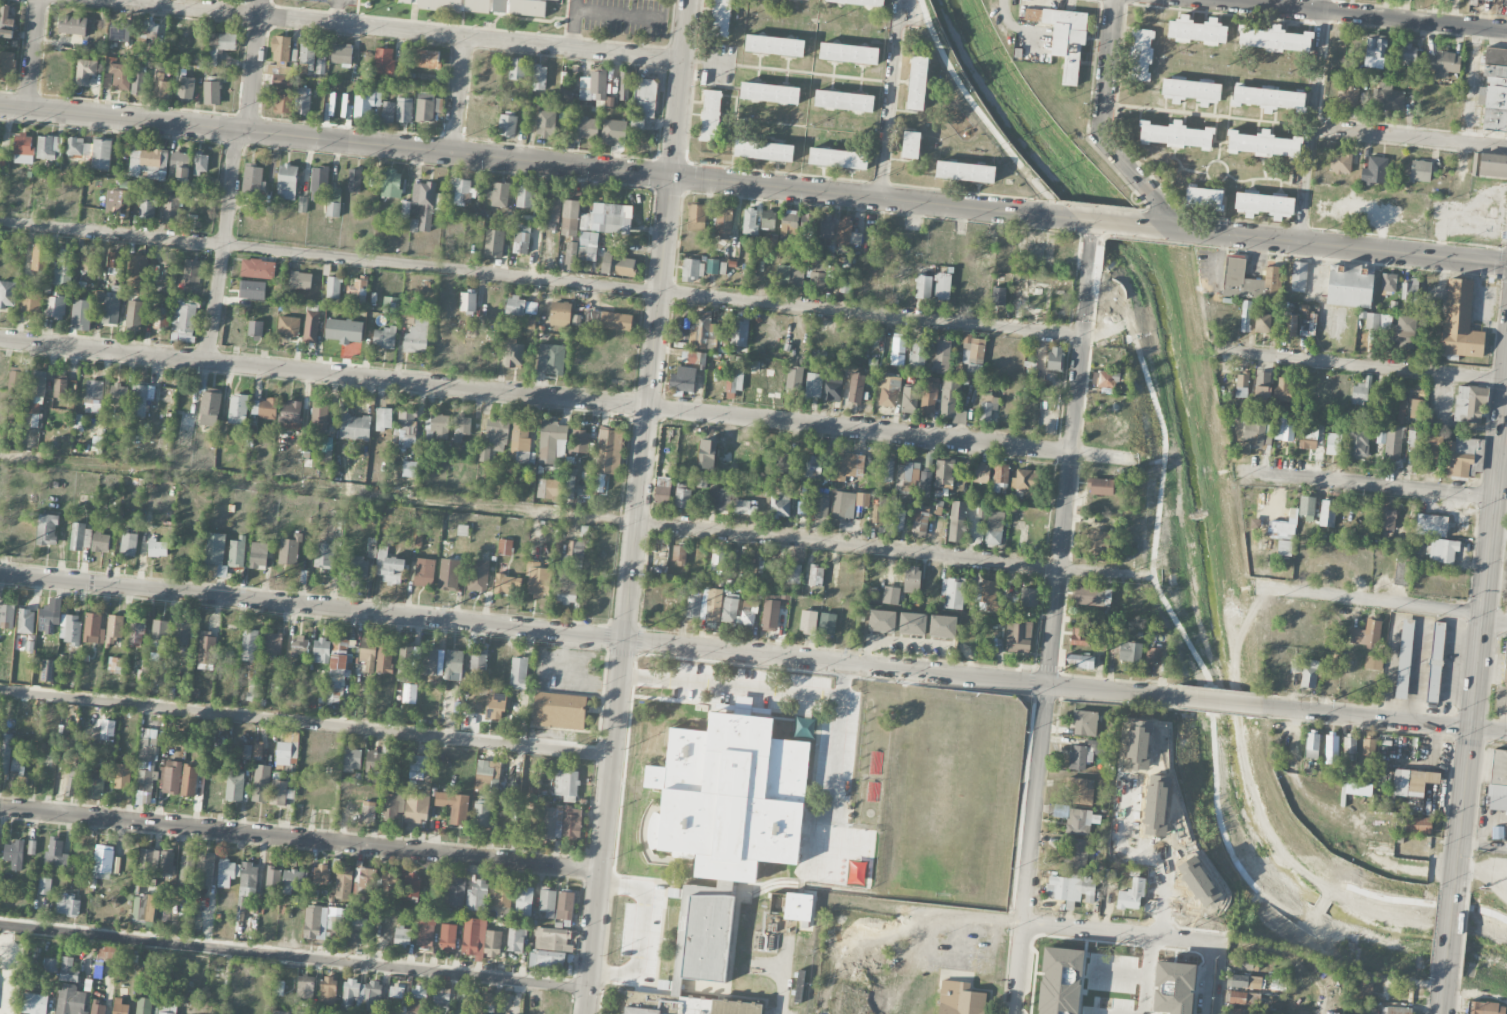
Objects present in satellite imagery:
building: (320, 1)
building: (409, 2)
building: (858, 2)
building: (440, 5)
building: (477, 6)
building: (500, 6)
building: (528, 7)
park: (313, 10)
parking lot: (313, 10)
road: (336, 12)
road: (616, 13)
road: (1362, 14)
building: (720, 18)
building: (6, 23)
road: (572, 24)
building: (72, 25)
building: (149, 30)
road: (390, 30)
building: (119, 31)
building: (1197, 31)
building: (1064, 37)
building: (1275, 39)
building: (223, 44)
building: (774, 45)
building: (1375, 51)
building: (307, 53)
building: (848, 53)
road: (1113, 53)
building: (1407, 53)
road: (32, 55)
building: (342, 56)
building: (1140, 56)
building: (427, 59)
building: (384, 61)
building: (281, 63)
building: (321, 63)
road: (709, 63)
building: (1444, 64)
building: (7, 66)
road: (255, 66)
building: (517, 68)
building: (85, 72)
road: (813, 75)
building: (121, 77)
building: (539, 77)
building: (139, 80)
building: (917, 83)
road: (1472, 85)
building: (593, 86)
building: (624, 86)
building: (161, 87)
building: (186, 88)
building: (1494, 89)
building: (1191, 91)
building: (211, 93)
building: (770, 93)
road: (458, 96)
building: (1347, 98)
building: (1389, 98)
road: (891, 99)
building: (1268, 99)
building: (304, 101)
building: (844, 101)
building: (284, 103)
building: (643, 103)
building: (332, 104)
building: (366, 104)
building: (344, 106)
building: (427, 108)
building: (404, 110)
building: (388, 113)
building: (709, 116)
road: (1210, 117)
road: (1313, 121)
building: (545, 124)
building: (509, 126)
building: (586, 128)
building: (1176, 135)
road: (1409, 138)
building: (1264, 144)
road: (675, 145)
building: (911, 145)
building: (78, 147)
building: (49, 148)
building: (23, 150)
building: (764, 150)
building: (101, 154)
building: (838, 158)
building: (1340, 162)
road: (545, 163)
building: (201, 164)
building: (148, 165)
building: (1490, 166)
building: (179, 167)
building: (1420, 170)
building: (965, 171)
building: (1374, 171)
road: (1132, 172)
building: (253, 180)
building: (354, 181)
building: (287, 182)
building: (391, 184)
building: (461, 190)
building: (325, 191)
building: (499, 195)
building: (526, 197)
building: (1203, 198)
building: (117, 203)
building: (303, 205)
building: (1264, 205)
building: (147, 206)
building: (553, 207)
building: (172, 208)
building: (422, 208)
building: (405, 210)
building: (696, 216)
building: (570, 217)
building: (606, 218)
building: (768, 219)
building: (723, 221)
building: (749, 221)
building: (808, 222)
road: (1097, 222)
road: (1130, 225)
building: (827, 226)
building: (785, 230)
building: (847, 233)
building: (521, 239)
building: (494, 243)
road: (224, 246)
road: (1330, 246)
building: (581, 249)
building: (987, 253)
building: (39, 257)
road: (329, 257)
building: (87, 260)
building: (115, 260)
building: (618, 265)
building: (718, 267)
building: (63, 269)
building: (170, 269)
building: (258, 269)
building: (692, 269)
building: (191, 272)
building: (137, 273)
building: (790, 275)
building: (1299, 276)
building: (819, 279)
building: (1250, 280)
building: (300, 281)
building: (902, 283)
building: (1389, 283)
building: (1350, 285)
building: (923, 286)
building: (942, 286)
building: (844, 287)
building: (333, 288)
building: (252, 290)
building: (1409, 290)
building: (7, 295)
building: (999, 296)
building: (467, 302)
building: (31, 304)
building: (391, 305)
building: (521, 306)
building: (54, 307)
road: (871, 313)
building: (110, 314)
building: (134, 314)
building: (560, 314)
building: (81, 316)
building: (1245, 316)
building: (159, 319)
building: (609, 320)
building: (184, 321)
building: (1460, 321)
building: (1378, 322)
building: (531, 323)
building: (1263, 323)
building: (1290, 325)
building: (1308, 325)
building: (1406, 326)
building: (289, 327)
building: (311, 327)
building: (255, 330)
building: (703, 331)
building: (739, 333)
building: (417, 337)
building: (385, 338)
building: (898, 352)
building: (972, 353)
building: (513, 354)
building: (696, 357)
building: (917, 357)
building: (942, 357)
building: (554, 359)
building: (1055, 359)
road: (1363, 365)
building: (735, 376)
building: (683, 378)
building: (794, 378)
building: (1104, 378)
building: (15, 382)
building: (773, 384)
building: (814, 385)
building: (1242, 385)
building: (1262, 386)
building: (833, 387)
road: (1506, 387)
building: (856, 388)
building: (1283, 389)
building: (888, 391)
building: (60, 392)
building: (94, 393)
building: (118, 393)
building: (1359, 394)
building: (35, 399)
building: (910, 399)
building: (928, 399)
building: (141, 400)
road: (569, 400)
building: (951, 401)
building: (1469, 404)
building: (988, 406)
building: (265, 408)
building: (210, 409)
building: (1401, 409)
building: (238, 410)
building: (1420, 410)
building: (291, 415)
building: (319, 416)
building: (383, 419)
building: (439, 427)
building: (462, 427)
building: (354, 428)
building: (407, 429)
building: (1284, 429)
building: (496, 433)
building: (1258, 434)
building: (1308, 434)
building: (553, 440)
building: (580, 440)
building: (1414, 440)
building: (1357, 441)
building: (521, 442)
building: (1333, 442)
building: (1390, 442)
building: (1432, 447)
building: (326, 449)
building: (609, 452)
road: (1164, 452)
building: (484, 453)
road: (1503, 454)
building: (1458, 458)
building: (928, 462)
building: (848, 465)
building: (813, 466)
building: (409, 470)
building: (887, 471)
building: (981, 473)
building: (906, 474)
building: (944, 474)
building: (999, 477)
building: (1024, 481)
building: (570, 484)
building: (925, 484)
road: (1366, 484)
building: (1101, 486)
building: (547, 488)
building: (662, 491)
building: (682, 498)
building: (719, 498)
building: (849, 505)
building: (779, 506)
building: (746, 507)
building: (803, 507)
building: (1307, 507)
building: (821, 508)
building: (1327, 513)
road: (565, 516)
building: (880, 516)
building: (1387, 518)
building: (898, 520)
building: (920, 522)
building: (957, 522)
building: (1431, 525)
building: (1282, 527)
building: (994, 528)
building: (47, 530)
building: (462, 530)
building: (81, 538)
building: (1098, 542)
building: (101, 543)
building: (129, 544)
building: (504, 547)
building: (575, 548)
building: (157, 549)
building: (289, 551)
building: (1447, 551)
building: (216, 553)
building: (237, 553)
building: (678, 554)
building: (324, 555)
building: (258, 556)
building: (718, 556)
building: (388, 563)
building: (357, 567)
building: (1401, 570)
building: (424, 573)
building: (794, 574)
building: (479, 575)
building: (815, 576)
building: (537, 578)
building: (931, 578)
building: (911, 580)
building: (506, 584)
power tower: (253, 586)
building: (568, 587)
building: (953, 592)
building: (891, 595)
building: (987, 596)
building: (1092, 596)
building: (1029, 597)
road: (1371, 600)
building: (704, 604)
power tower: (451, 607)
building: (730, 610)
building: (748, 613)
building: (770, 615)
building: (7, 616)
road: (1054, 618)
building: (46, 620)
building: (882, 621)
building: (26, 622)
building: (808, 622)
road: (1495, 622)
building: (827, 623)
building: (912, 623)
building: (942, 626)
power tower: (647, 627)
building: (114, 628)
building: (93, 629)
building: (70, 630)
building: (136, 632)
building: (160, 632)
building: (182, 634)
building: (1366, 634)
road: (1482, 634)
building: (1078, 635)
road: (587, 636)
building: (1018, 637)
building: (274, 644)
building: (250, 645)
building: (300, 646)
building: (207, 649)
power tower: (850, 649)
building: (368, 650)
building: (321, 652)
building: (1130, 652)
road: (623, 653)
building: (1153, 655)
building: (340, 657)
building: (384, 659)
building: (1404, 659)
building: (1079, 661)
building: (408, 662)
building: (429, 662)
building: (477, 662)
building: (1373, 662)
building: (1435, 662)
building: (116, 665)
building: (453, 665)
building: (1505, 666)
building: (369, 667)
building: (47, 671)
power tower: (1060, 671)
building: (1306, 671)
building: (518, 673)
road: (843, 681)
building: (253, 691)
road: (784, 692)
building: (409, 694)
power tower: (1333, 700)
road: (1220, 702)
building: (494, 705)
building: (559, 710)
road: (1386, 720)
road: (306, 722)
building: (1085, 723)
building: (106, 730)
building: (1312, 745)
building: (1368, 747)
building: (1331, 749)
building: (1349, 749)
building: (257, 751)
building: (5, 752)
building: (246, 753)
building: (283, 754)
building: (352, 758)
building: (1080, 758)
building: (146, 765)
building: (418, 765)
building: (373, 767)
building: (18, 774)
building: (485, 774)
building: (122, 777)
building: (171, 778)
building: (1497, 780)
building: (189, 782)
building: (1412, 782)
building: (566, 783)
building: (261, 784)
building: (73, 787)
building: (235, 787)
building: (95, 790)
building: (1080, 791)
building: (278, 793)
building: (731, 796)
building: (393, 804)
building: (453, 806)
building: (416, 809)
building: (368, 812)
building: (481, 815)
building: (1080, 821)
building: (552, 822)
building: (572, 823)
building: (1418, 825)
building: (1498, 832)
road: (300, 840)
road: (1484, 845)
building: (31, 848)
building: (56, 853)
building: (1077, 854)
road: (1147, 854)
building: (14, 855)
building: (149, 860)
building: (103, 863)
building: (167, 863)
building: (187, 868)
building: (205, 870)
building: (227, 873)
building: (322, 875)
building: (367, 877)
building: (273, 878)
building: (248, 880)
building: (293, 881)
building: (343, 883)
building: (388, 884)
building: (411, 885)
building: (44, 886)
building: (1071, 889)
building: (456, 891)
building: (477, 895)
building: (502, 895)
building: (1131, 895)
building: (524, 900)
building: (547, 902)
road: (1322, 902)
road: (1416, 902)
building: (68, 905)
building: (565, 906)
building: (798, 907)
building: (144, 908)
building: (336, 920)
building: (315, 923)
road: (1062, 924)
building: (358, 931)
road: (647, 931)
building: (425, 934)
building: (403, 937)
building: (447, 938)
building: (474, 939)
building: (552, 939)
building: (515, 940)
road: (1452, 940)
building: (493, 944)
road: (294, 954)
building: (104, 956)
building: (547, 959)
building: (696, 959)
building: (1245, 961)
building: (51, 966)
building: (68, 971)
road: (785, 973)
road: (1150, 974)
road: (1223, 978)
building: (1246, 982)
building: (306, 988)
building: (1397, 989)
building: (1364, 990)
building: (328, 991)
building: (361, 997)
building: (418, 997)
building: (1238, 997)
building: (461, 998)
building: (960, 999)
building: (71, 1000)
building: (441, 1000)
building: (486, 1002)
building: (37, 1003)
road: (1445, 1003)
building: (144, 1006)
building: (119, 1007)
building: (1484, 1008)
building: (98, 1009)
building: (167, 1009)
building: (1396, 1010)
building: (1240, 1011)
building: (279, 1012)
building: (1335, 1013)

